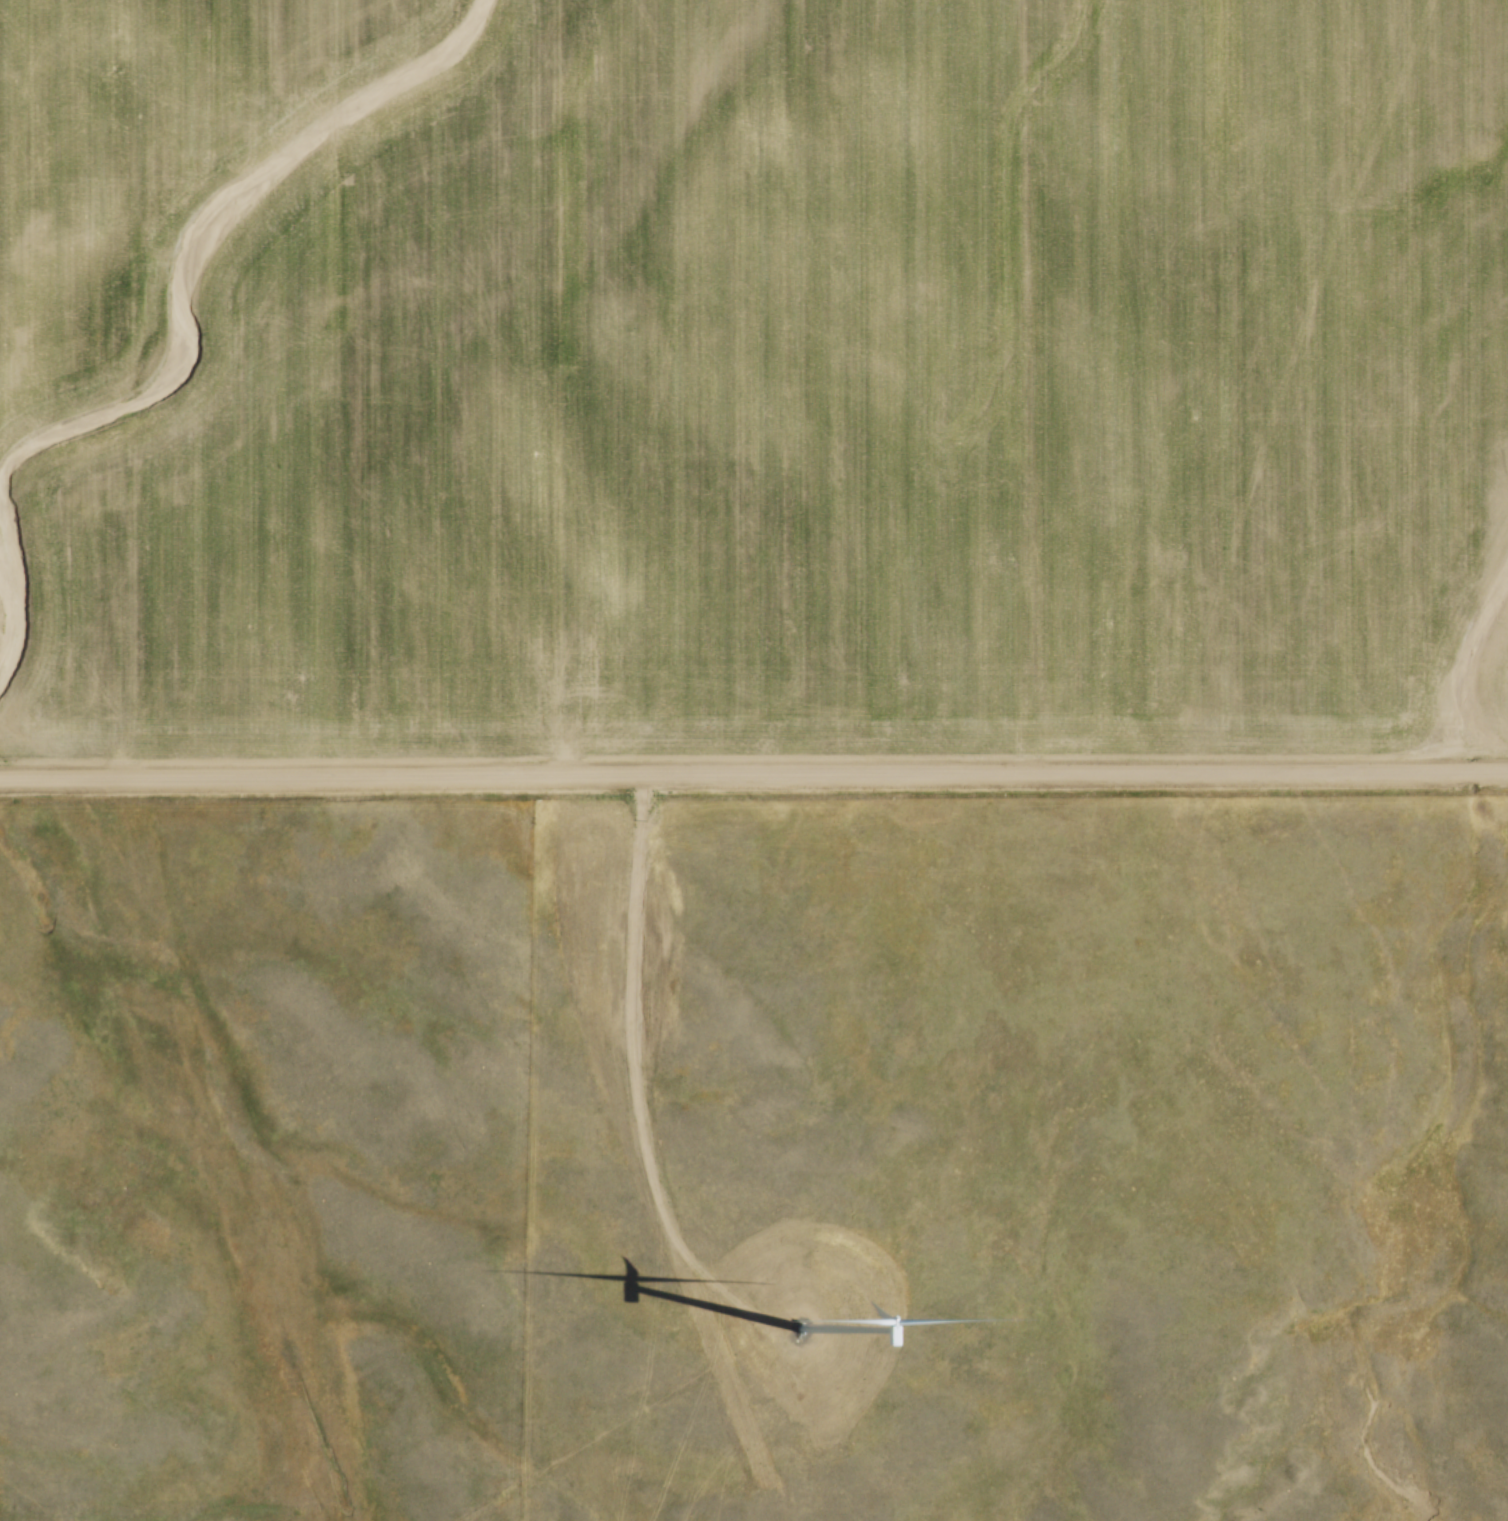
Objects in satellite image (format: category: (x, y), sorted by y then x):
road: (754, 771)
road: (635, 1050)
wind turbine: (805, 1323)

